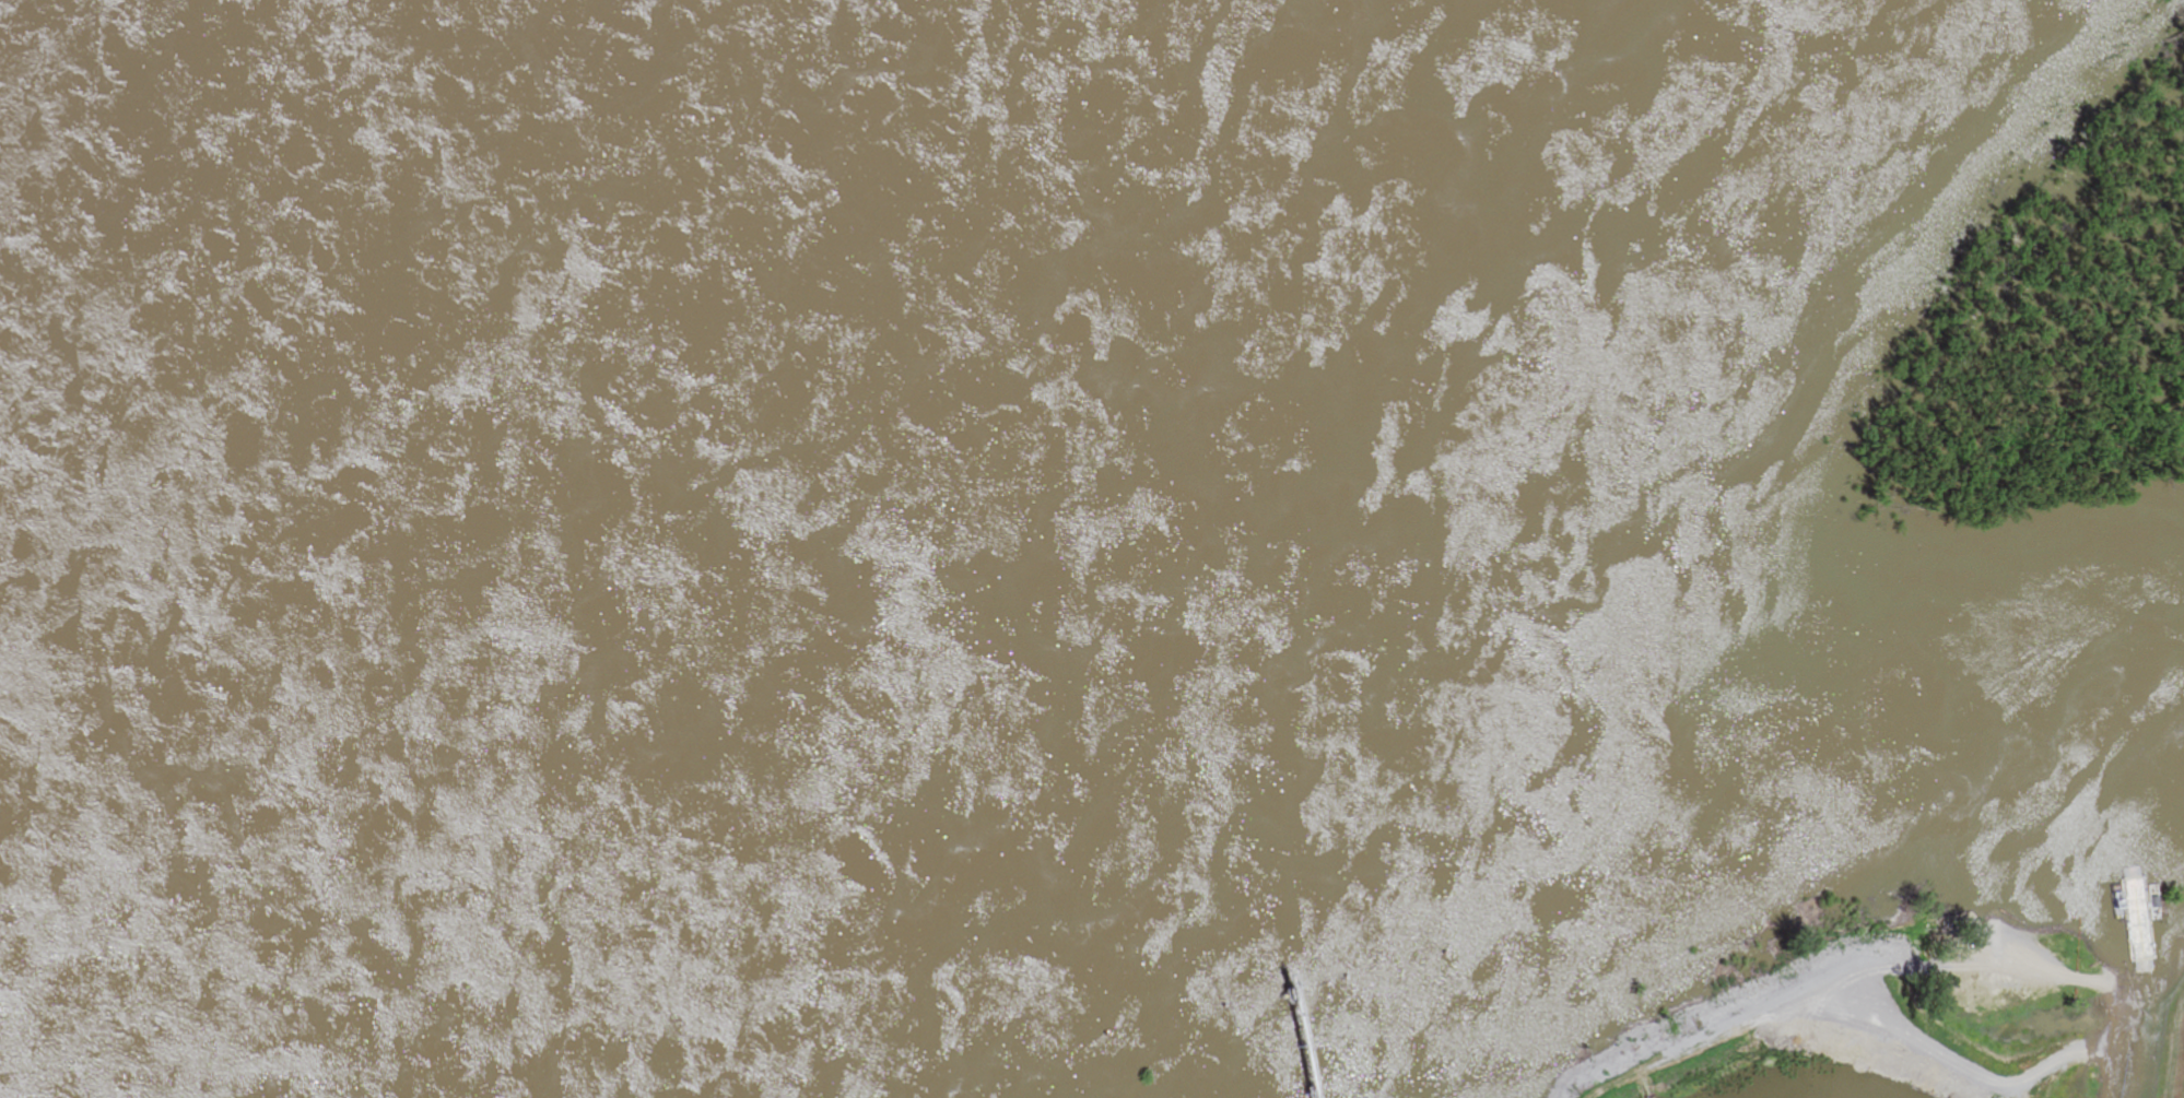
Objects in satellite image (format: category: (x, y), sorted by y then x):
river: (1095, 786)
road: (2136, 964)

